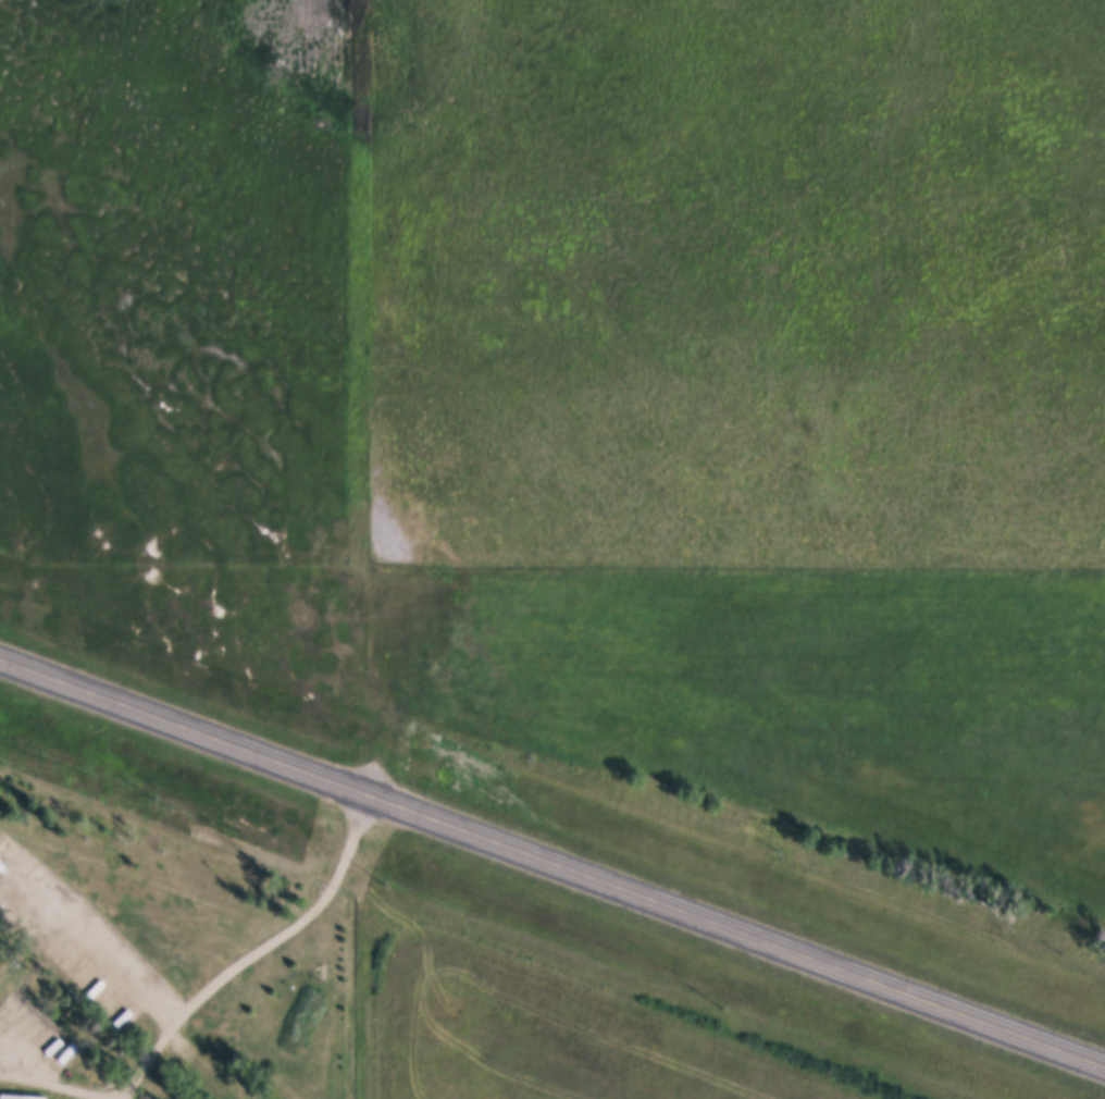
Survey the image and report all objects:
road: (551, 857)
road: (210, 985)
building: (21, 1097)

